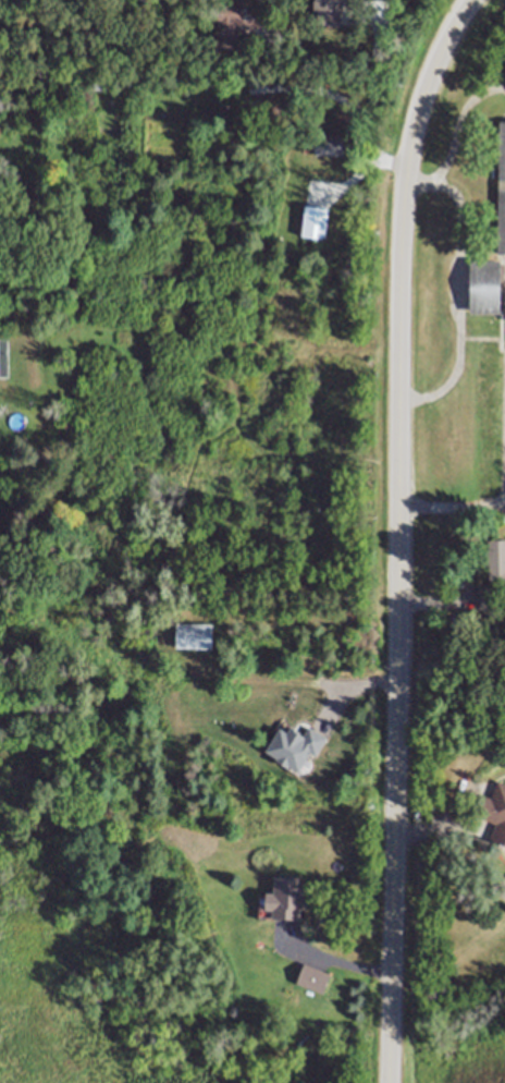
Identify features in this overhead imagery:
building: (327, 11)
building: (234, 21)
road: (345, 98)
building: (335, 143)
building: (501, 188)
building: (315, 222)
building: (484, 285)
road: (459, 291)
road: (451, 507)
road: (396, 534)
building: (496, 560)
building: (488, 597)
building: (193, 634)
building: (495, 816)
building: (286, 897)
building: (312, 977)

